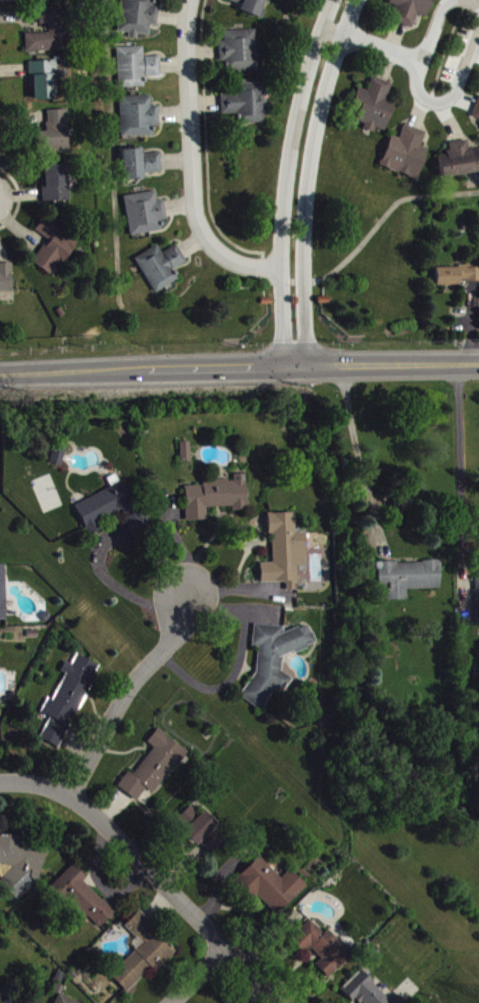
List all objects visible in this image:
building: (52, 1)
building: (236, 2)
road: (471, 3)
building: (254, 8)
building: (412, 12)
building: (139, 18)
building: (51, 34)
road: (372, 46)
building: (240, 53)
building: (137, 70)
building: (44, 83)
road: (425, 95)
building: (247, 106)
building: (375, 109)
building: (477, 115)
building: (139, 119)
building: (56, 136)
building: (407, 156)
road: (191, 162)
building: (460, 163)
building: (141, 167)
road: (306, 178)
road: (284, 179)
building: (56, 186)
building: (145, 216)
building: (55, 248)
building: (161, 270)
building: (457, 278)
road: (227, 280)
building: (6, 281)
traffic signals: (278, 366)
road: (239, 367)
road: (357, 454)
road: (457, 454)
building: (186, 455)
building: (58, 459)
building: (216, 500)
building: (111, 512)
road: (181, 551)
building: (285, 554)
building: (408, 581)
building: (3, 596)
road: (128, 596)
building: (477, 601)
building: (274, 663)
road: (128, 694)
building: (69, 702)
building: (155, 769)
building: (205, 837)
building: (18, 865)
road: (149, 874)
building: (271, 888)
building: (83, 899)
building: (323, 950)
building: (144, 957)
road: (202, 976)
building: (365, 992)
building: (63, 1001)
building: (398, 1001)

